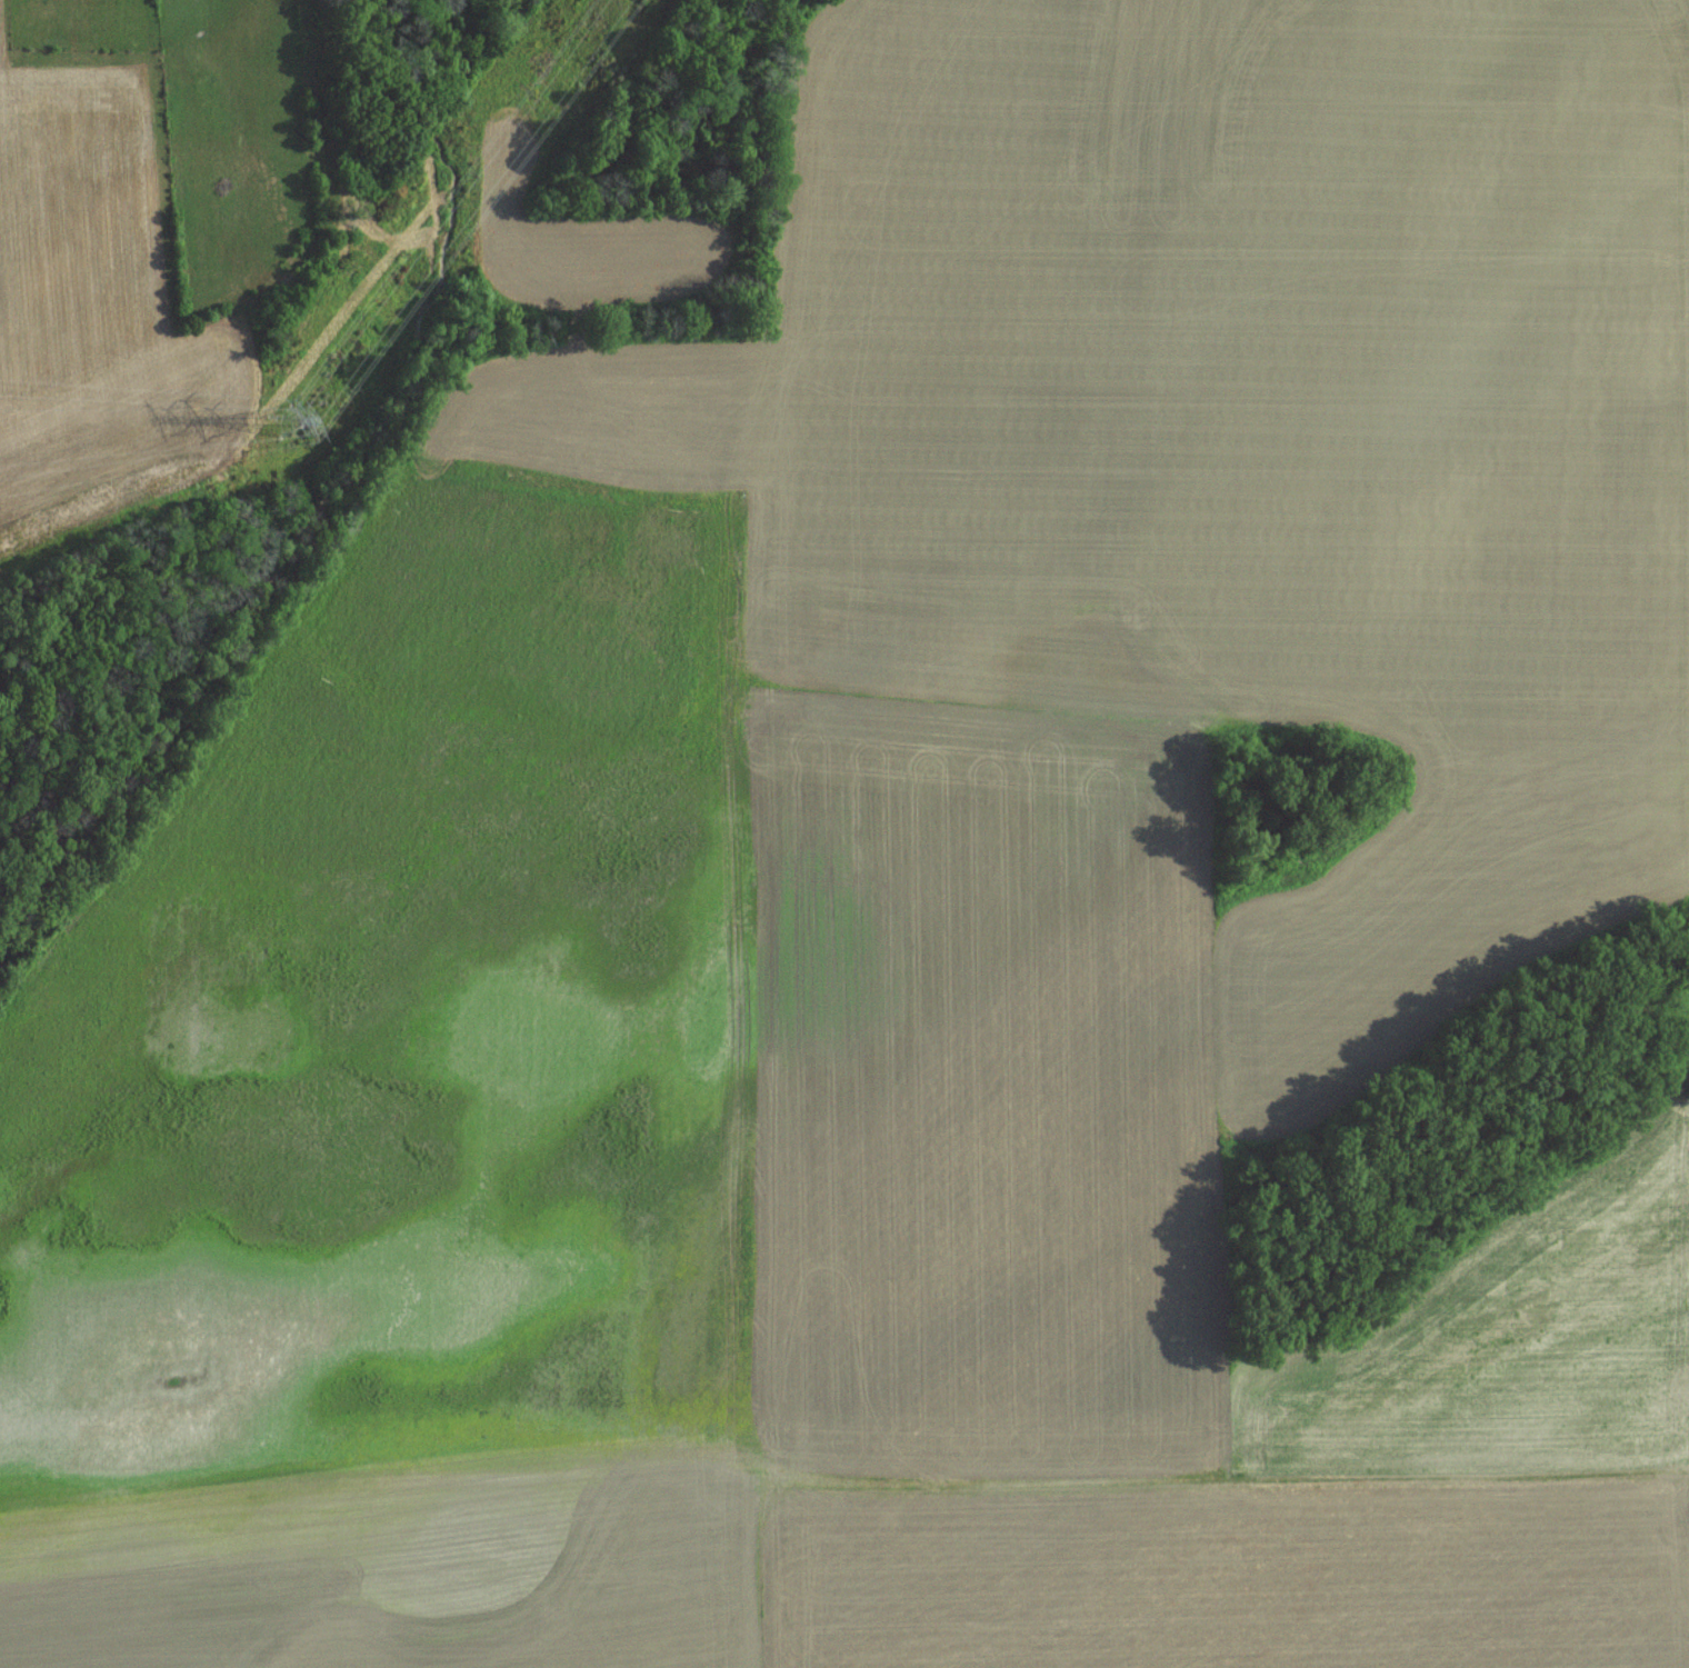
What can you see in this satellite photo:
power tower: (289, 420)

